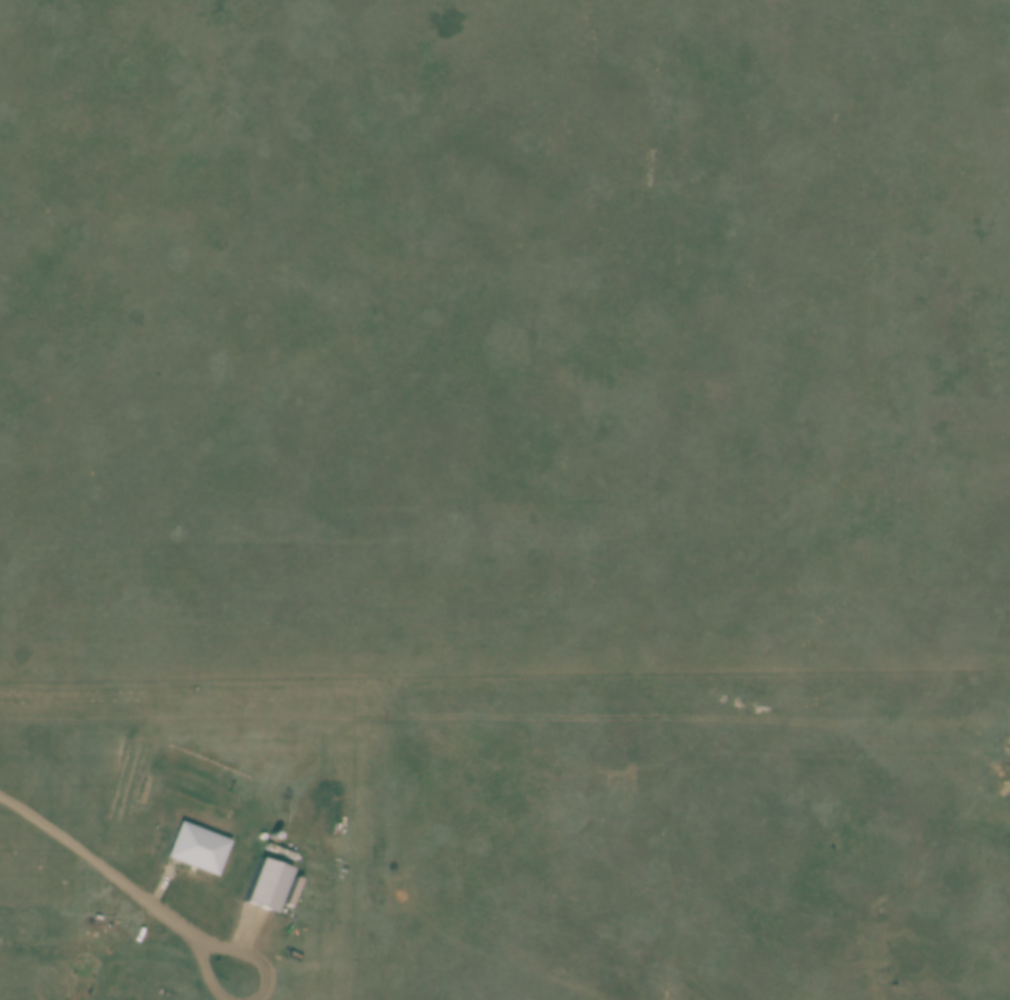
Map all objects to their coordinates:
building: (273, 833)
silo: (273, 833)
building: (198, 847)
building: (267, 883)

